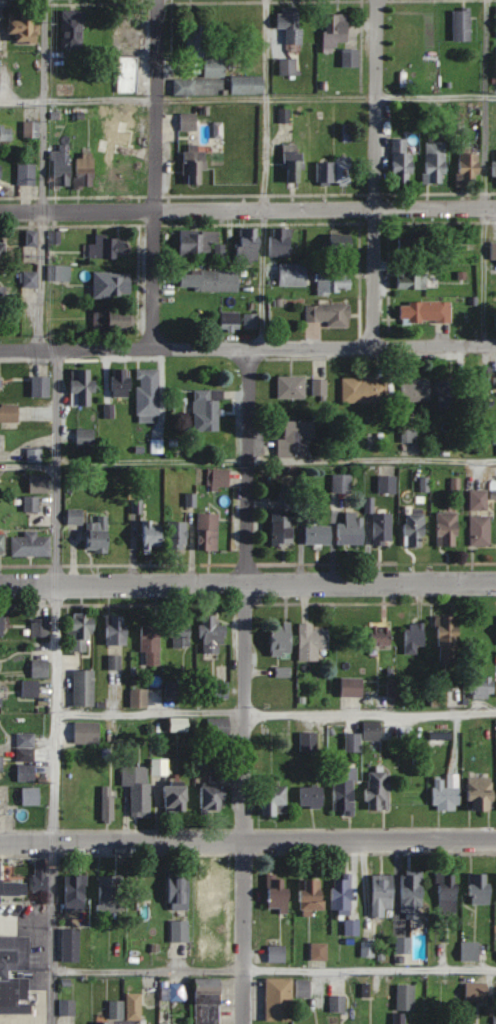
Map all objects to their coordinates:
building: (23, 25)
building: (290, 25)
building: (462, 25)
building: (72, 29)
building: (336, 32)
building: (351, 58)
building: (287, 67)
building: (127, 74)
building: (248, 84)
road: (248, 100)
building: (284, 114)
building: (31, 129)
building: (6, 135)
building: (119, 142)
building: (402, 160)
building: (293, 162)
building: (436, 162)
building: (63, 165)
building: (197, 166)
building: (470, 168)
building: (494, 168)
building: (85, 170)
building: (335, 171)
road: (376, 172)
road: (263, 173)
building: (27, 174)
road: (155, 174)
building: (0, 175)
road: (43, 175)
road: (248, 209)
building: (198, 242)
building: (282, 242)
building: (341, 243)
building: (416, 243)
building: (248, 244)
building: (110, 247)
building: (493, 250)
building: (2, 254)
building: (59, 273)
building: (293, 274)
road: (485, 275)
building: (31, 279)
building: (210, 280)
building: (412, 280)
building: (330, 282)
building: (112, 285)
building: (1, 293)
building: (426, 311)
building: (328, 314)
building: (114, 320)
building: (230, 320)
building: (251, 321)
road: (248, 348)
building: (122, 382)
building: (0, 384)
building: (83, 385)
building: (41, 386)
building: (292, 387)
building: (320, 388)
building: (365, 390)
building: (416, 390)
building: (148, 393)
building: (450, 395)
building: (208, 406)
building: (9, 413)
building: (85, 437)
building: (407, 437)
building: (297, 439)
building: (0, 441)
building: (35, 454)
road: (372, 462)
road: (153, 464)
building: (219, 478)
building: (39, 482)
building: (341, 484)
building: (387, 484)
building: (291, 499)
building: (479, 500)
building: (31, 503)
building: (76, 516)
building: (415, 527)
building: (383, 528)
building: (282, 529)
building: (448, 529)
building: (209, 530)
building: (352, 530)
building: (480, 530)
building: (98, 534)
building: (152, 534)
building: (178, 534)
building: (318, 534)
building: (3, 542)
building: (31, 544)
road: (247, 583)
building: (2, 627)
building: (40, 627)
building: (116, 630)
building: (81, 632)
building: (212, 634)
building: (373, 635)
building: (410, 636)
building: (440, 636)
building: (182, 639)
building: (283, 640)
building: (313, 641)
building: (152, 646)
building: (114, 662)
building: (40, 668)
road: (246, 685)
building: (349, 686)
road: (55, 687)
building: (477, 687)
building: (31, 688)
building: (84, 688)
building: (494, 688)
building: (219, 689)
building: (175, 690)
building: (1, 697)
building: (434, 697)
building: (139, 698)
road: (275, 713)
building: (218, 728)
building: (370, 730)
building: (87, 733)
building: (308, 741)
building: (353, 743)
building: (26, 757)
building: (160, 767)
building: (138, 788)
building: (378, 791)
building: (214, 792)
building: (473, 792)
building: (345, 793)
building: (440, 793)
building: (495, 793)
building: (31, 796)
building: (176, 796)
building: (311, 796)
building: (274, 800)
building: (108, 804)
road: (247, 839)
building: (41, 876)
building: (494, 884)
building: (11, 886)
building: (477, 887)
building: (179, 890)
building: (211, 891)
building: (447, 891)
building: (76, 892)
building: (278, 892)
building: (111, 893)
building: (383, 894)
building: (412, 894)
building: (342, 895)
building: (313, 896)
building: (179, 930)
building: (71, 944)
building: (404, 945)
building: (319, 950)
building: (471, 950)
building: (276, 952)
road: (272, 968)
building: (15, 974)
building: (477, 991)
building: (406, 997)
building: (279, 998)
building: (209, 1001)
building: (337, 1003)
building: (67, 1007)
building: (444, 1022)

